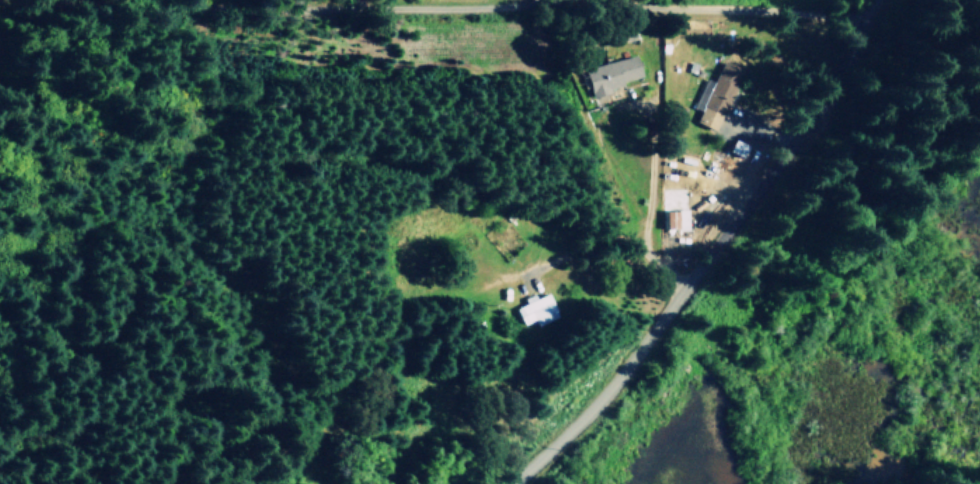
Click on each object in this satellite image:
road: (757, 19)
building: (610, 74)
building: (719, 95)
building: (737, 148)
building: (673, 219)
road: (707, 256)
building: (534, 310)

